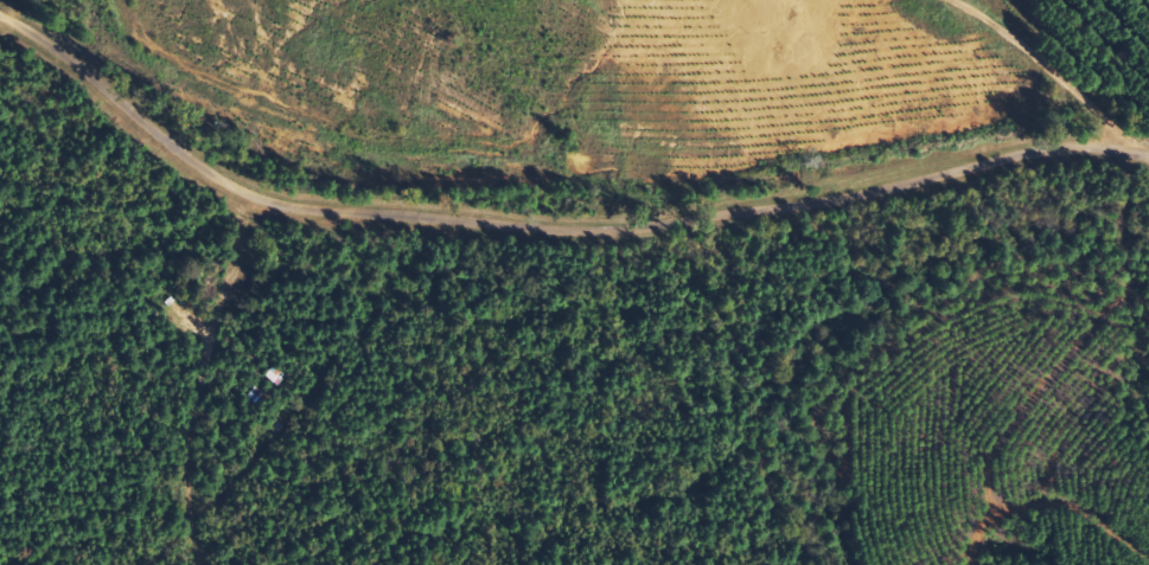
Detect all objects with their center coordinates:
road: (556, 223)

